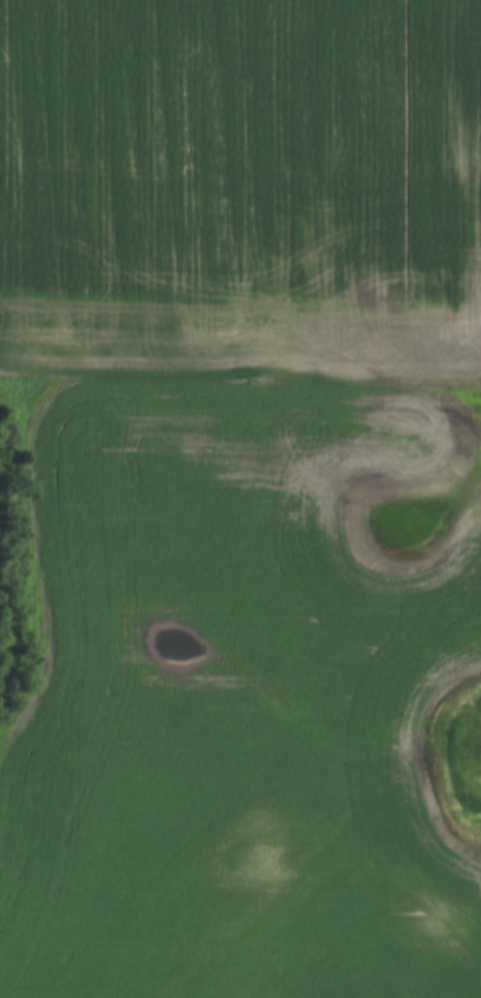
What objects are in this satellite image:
building: (237, 284)
building: (117, 285)
building: (177, 287)

